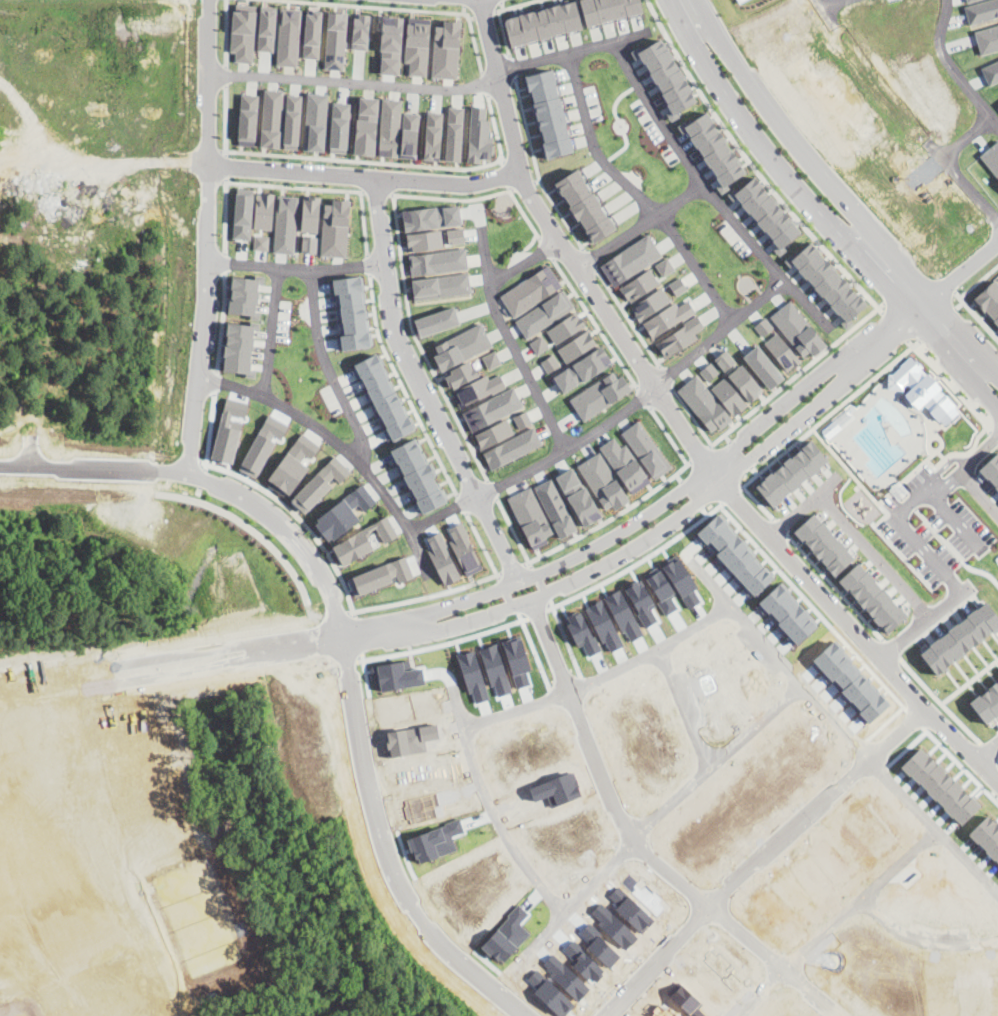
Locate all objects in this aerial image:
road: (501, 0)
road: (828, 0)
building: (970, 0)
road: (464, 2)
road: (503, 4)
road: (514, 5)
road: (384, 7)
road: (464, 8)
building: (608, 9)
building: (982, 10)
road: (484, 12)
building: (543, 22)
building: (267, 28)
building: (361, 30)
road: (226, 33)
building: (243, 33)
building: (312, 33)
road: (503, 33)
building: (288, 37)
building: (987, 39)
building: (335, 40)
building: (390, 43)
building: (418, 44)
road: (475, 45)
building: (446, 49)
road: (570, 51)
road: (952, 66)
road: (511, 67)
building: (991, 72)
road: (226, 76)
building: (666, 77)
road: (353, 82)
road: (485, 83)
road: (501, 86)
building: (548, 113)
building: (272, 118)
building: (248, 119)
road: (226, 120)
road: (746, 120)
building: (292, 121)
building: (315, 121)
road: (624, 122)
building: (366, 125)
road: (495, 126)
road: (616, 126)
building: (340, 127)
building: (389, 127)
building: (454, 134)
building: (409, 135)
building: (433, 135)
building: (480, 136)
building: (713, 148)
road: (804, 149)
building: (991, 157)
road: (340, 158)
road: (957, 161)
road: (131, 162)
road: (483, 164)
road: (226, 165)
road: (752, 165)
road: (537, 169)
road: (506, 173)
road: (364, 178)
road: (537, 180)
road: (260, 184)
road: (523, 184)
road: (312, 188)
road: (342, 189)
road: (377, 191)
road: (709, 191)
road: (635, 192)
road: (453, 198)
building: (585, 205)
building: (264, 210)
building: (243, 213)
building: (310, 213)
road: (523, 213)
road: (395, 214)
building: (766, 214)
road: (225, 215)
building: (431, 217)
road: (364, 222)
building: (285, 224)
road: (641, 227)
building: (335, 228)
building: (456, 235)
road: (207, 236)
building: (424, 240)
building: (261, 242)
building: (310, 243)
road: (526, 246)
road: (547, 249)
road: (590, 259)
building: (631, 259)
building: (438, 261)
road: (524, 261)
road: (223, 263)
road: (971, 263)
road: (367, 264)
building: (664, 266)
road: (296, 269)
road: (876, 272)
building: (826, 281)
building: (639, 285)
building: (441, 286)
building: (678, 286)
building: (531, 290)
road: (957, 293)
building: (244, 296)
road: (961, 299)
building: (988, 302)
building: (650, 303)
road: (959, 304)
building: (352, 312)
building: (545, 313)
building: (669, 316)
road: (628, 317)
road: (409, 319)
building: (437, 321)
road: (222, 323)
road: (595, 323)
road: (936, 323)
road: (895, 325)
building: (763, 326)
building: (566, 327)
building: (798, 329)
road: (958, 329)
road: (273, 332)
road: (719, 332)
road: (506, 334)
building: (680, 337)
road: (910, 342)
road: (915, 343)
building: (538, 344)
building: (577, 345)
building: (461, 346)
building: (240, 347)
building: (782, 351)
building: (491, 359)
building: (725, 360)
road: (956, 361)
building: (550, 362)
road: (328, 367)
building: (763, 367)
building: (583, 369)
building: (709, 371)
road: (800, 371)
building: (460, 374)
road: (666, 377)
road: (873, 377)
building: (745, 382)
road: (422, 387)
road: (402, 388)
building: (477, 389)
building: (922, 392)
building: (600, 394)
building: (729, 396)
building: (384, 397)
road: (644, 397)
building: (704, 403)
building: (492, 408)
road: (692, 416)
building: (522, 420)
road: (681, 425)
road: (461, 429)
building: (229, 430)
building: (493, 433)
road: (670, 437)
road: (929, 438)
road: (940, 439)
road: (716, 440)
building: (263, 444)
road: (570, 447)
building: (512, 448)
building: (646, 450)
road: (699, 453)
road: (740, 453)
road: (929, 455)
road: (353, 456)
road: (922, 463)
building: (293, 464)
building: (624, 465)
building: (991, 469)
road: (754, 470)
building: (791, 473)
building: (419, 475)
road: (679, 477)
building: (602, 481)
building: (319, 484)
road: (491, 488)
road: (900, 492)
road: (977, 492)
building: (578, 496)
road: (905, 502)
road: (910, 502)
road: (758, 503)
road: (462, 504)
road: (627, 507)
building: (555, 508)
road: (442, 512)
building: (344, 513)
road: (952, 514)
building: (531, 517)
road: (246, 525)
parking lot: (933, 526)
road: (782, 527)
road: (853, 531)
road: (514, 532)
road: (318, 541)
building: (363, 541)
building: (823, 544)
road: (482, 545)
building: (464, 548)
road: (953, 550)
road: (543, 554)
road: (902, 555)
road: (567, 560)
road: (512, 568)
building: (379, 576)
road: (483, 578)
road: (574, 578)
road: (836, 588)
building: (873, 597)
road: (388, 604)
road: (919, 624)
building: (961, 638)
road: (340, 642)
road: (890, 648)
road: (969, 681)
road: (690, 702)
building: (986, 702)
road: (942, 705)
road: (987, 752)
road: (993, 755)
road: (604, 764)
road: (486, 797)
road: (40, 804)
road: (82, 809)
road: (903, 851)
road: (966, 854)
road: (763, 860)
road: (923, 931)
road: (783, 960)

